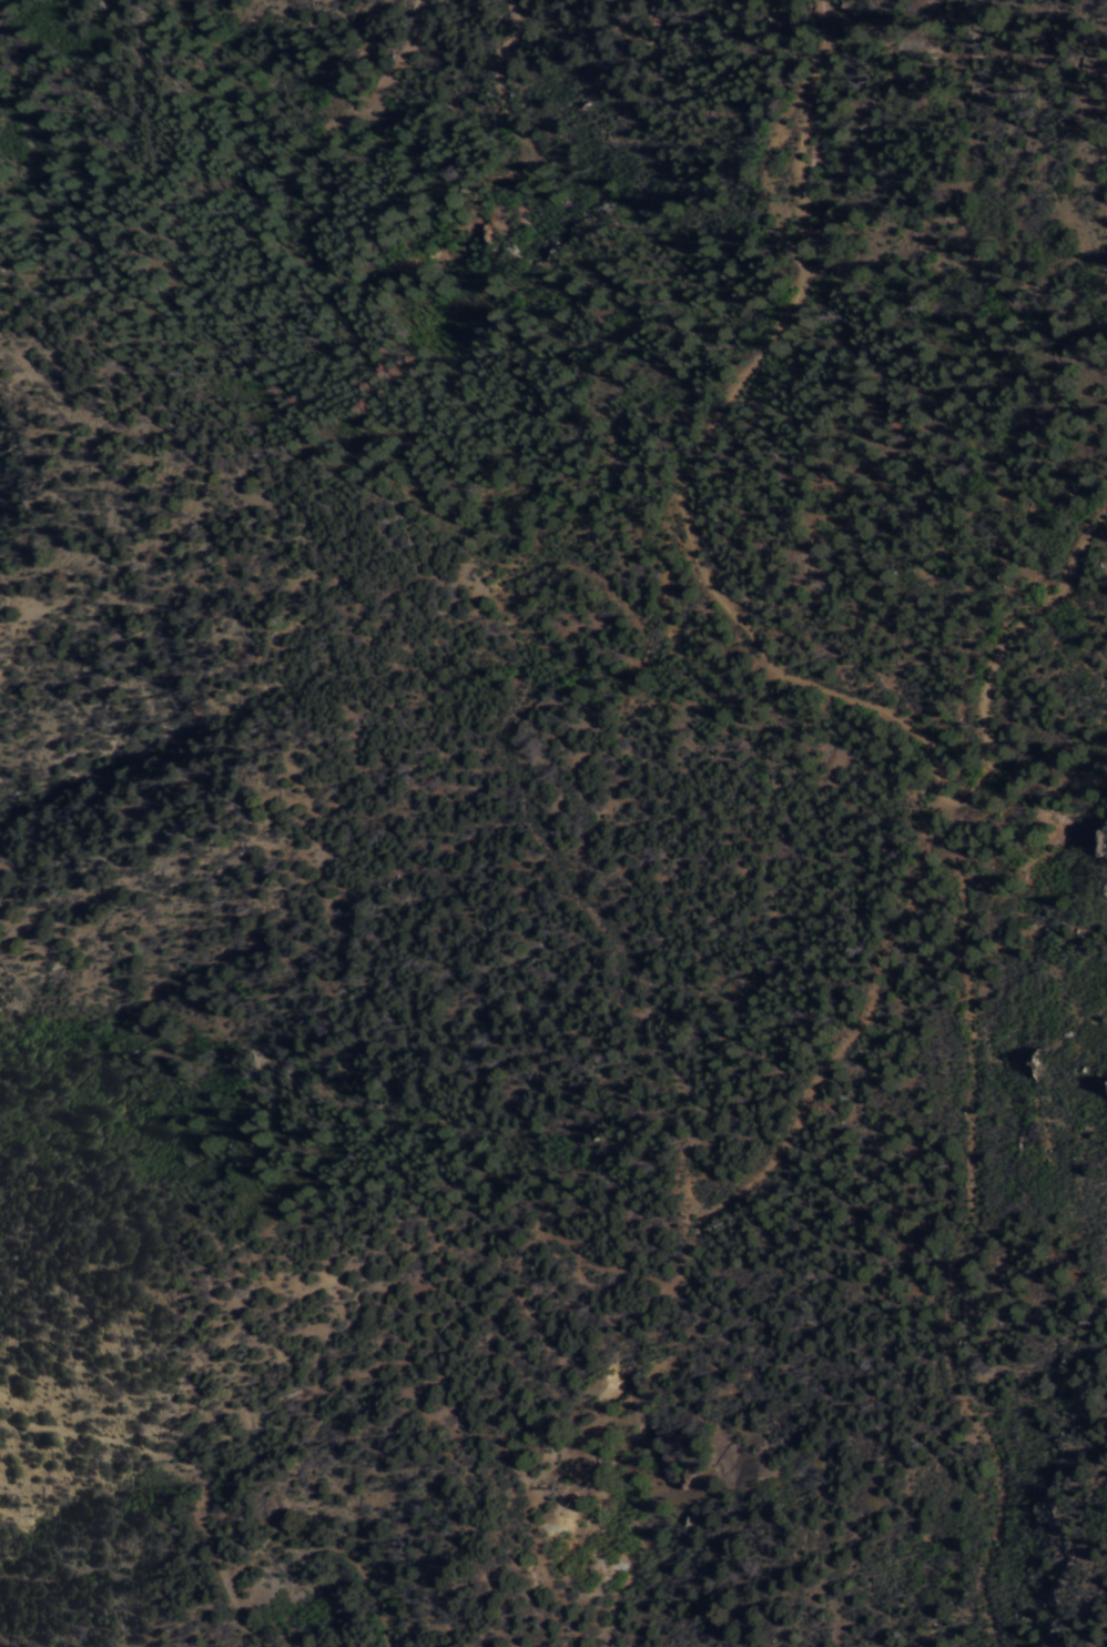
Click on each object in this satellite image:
road: (732, 614)
road: (163, 1555)

